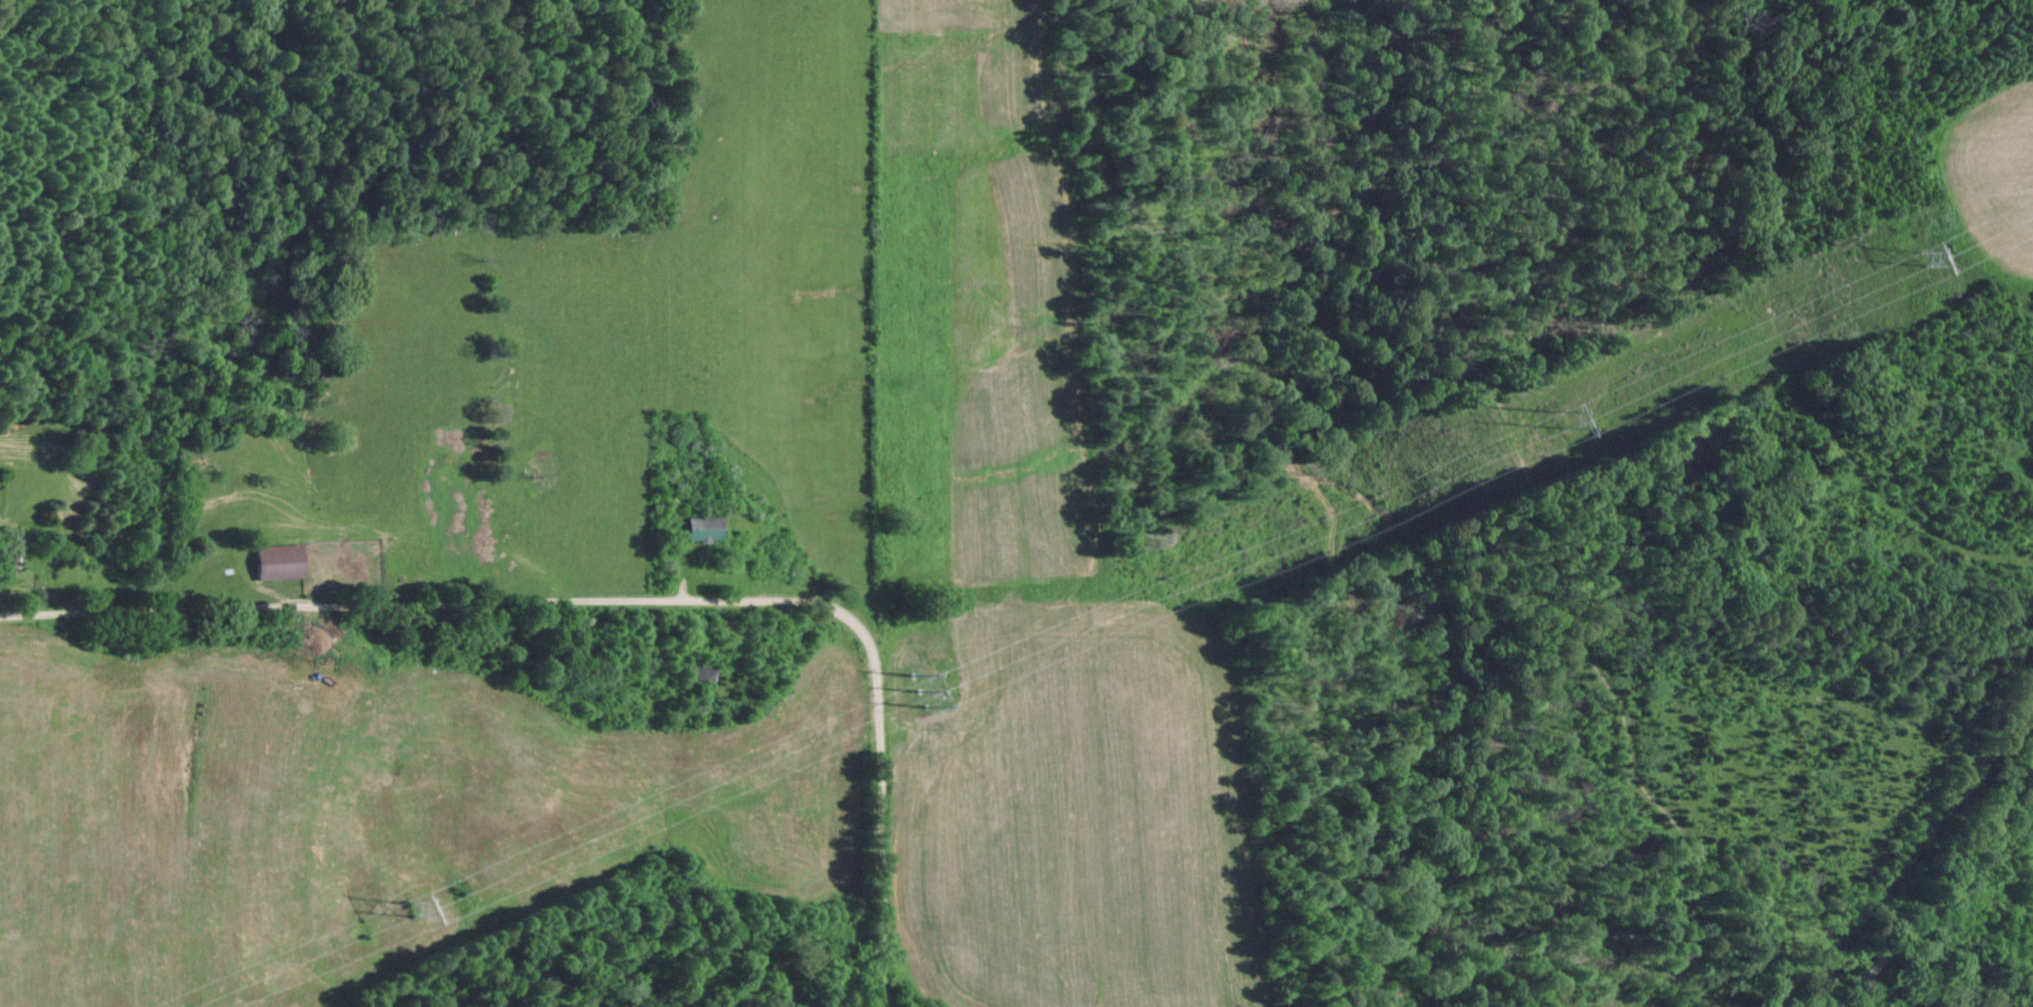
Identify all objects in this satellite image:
power tower: (1924, 258)
power tower: (1543, 423)
building: (702, 528)
building: (277, 561)
road: (621, 603)
building: (697, 670)
power tower: (947, 677)
road: (1942, 886)
power tower: (409, 907)

